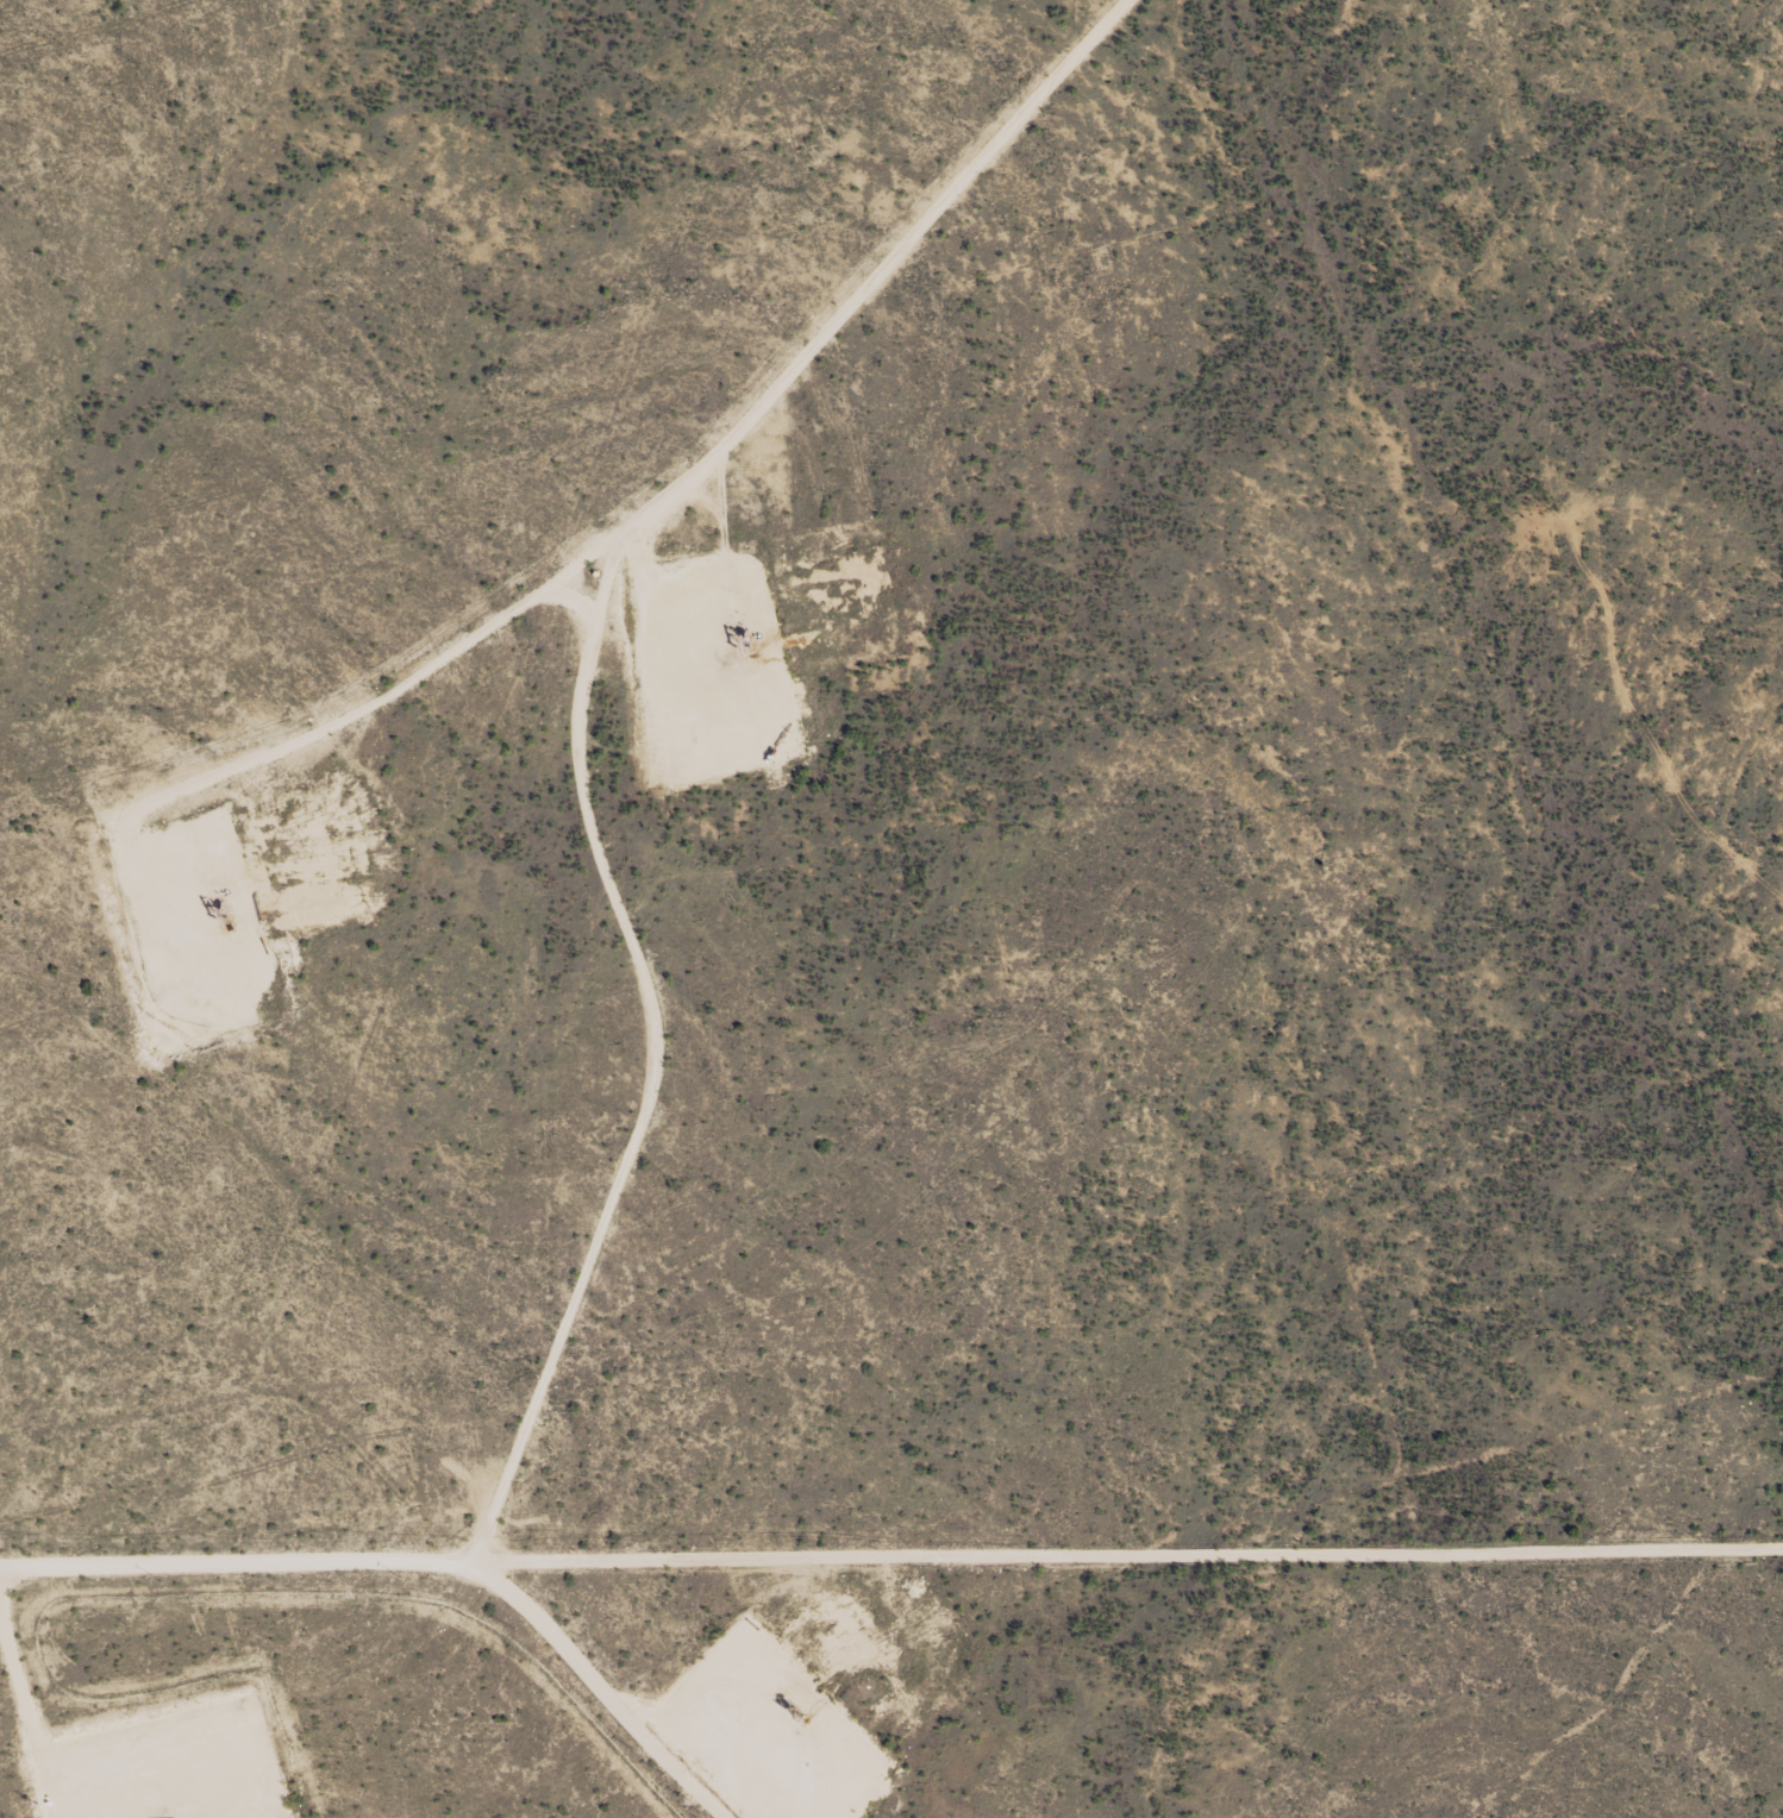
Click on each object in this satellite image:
road: (888, 1606)
road: (636, 1717)

